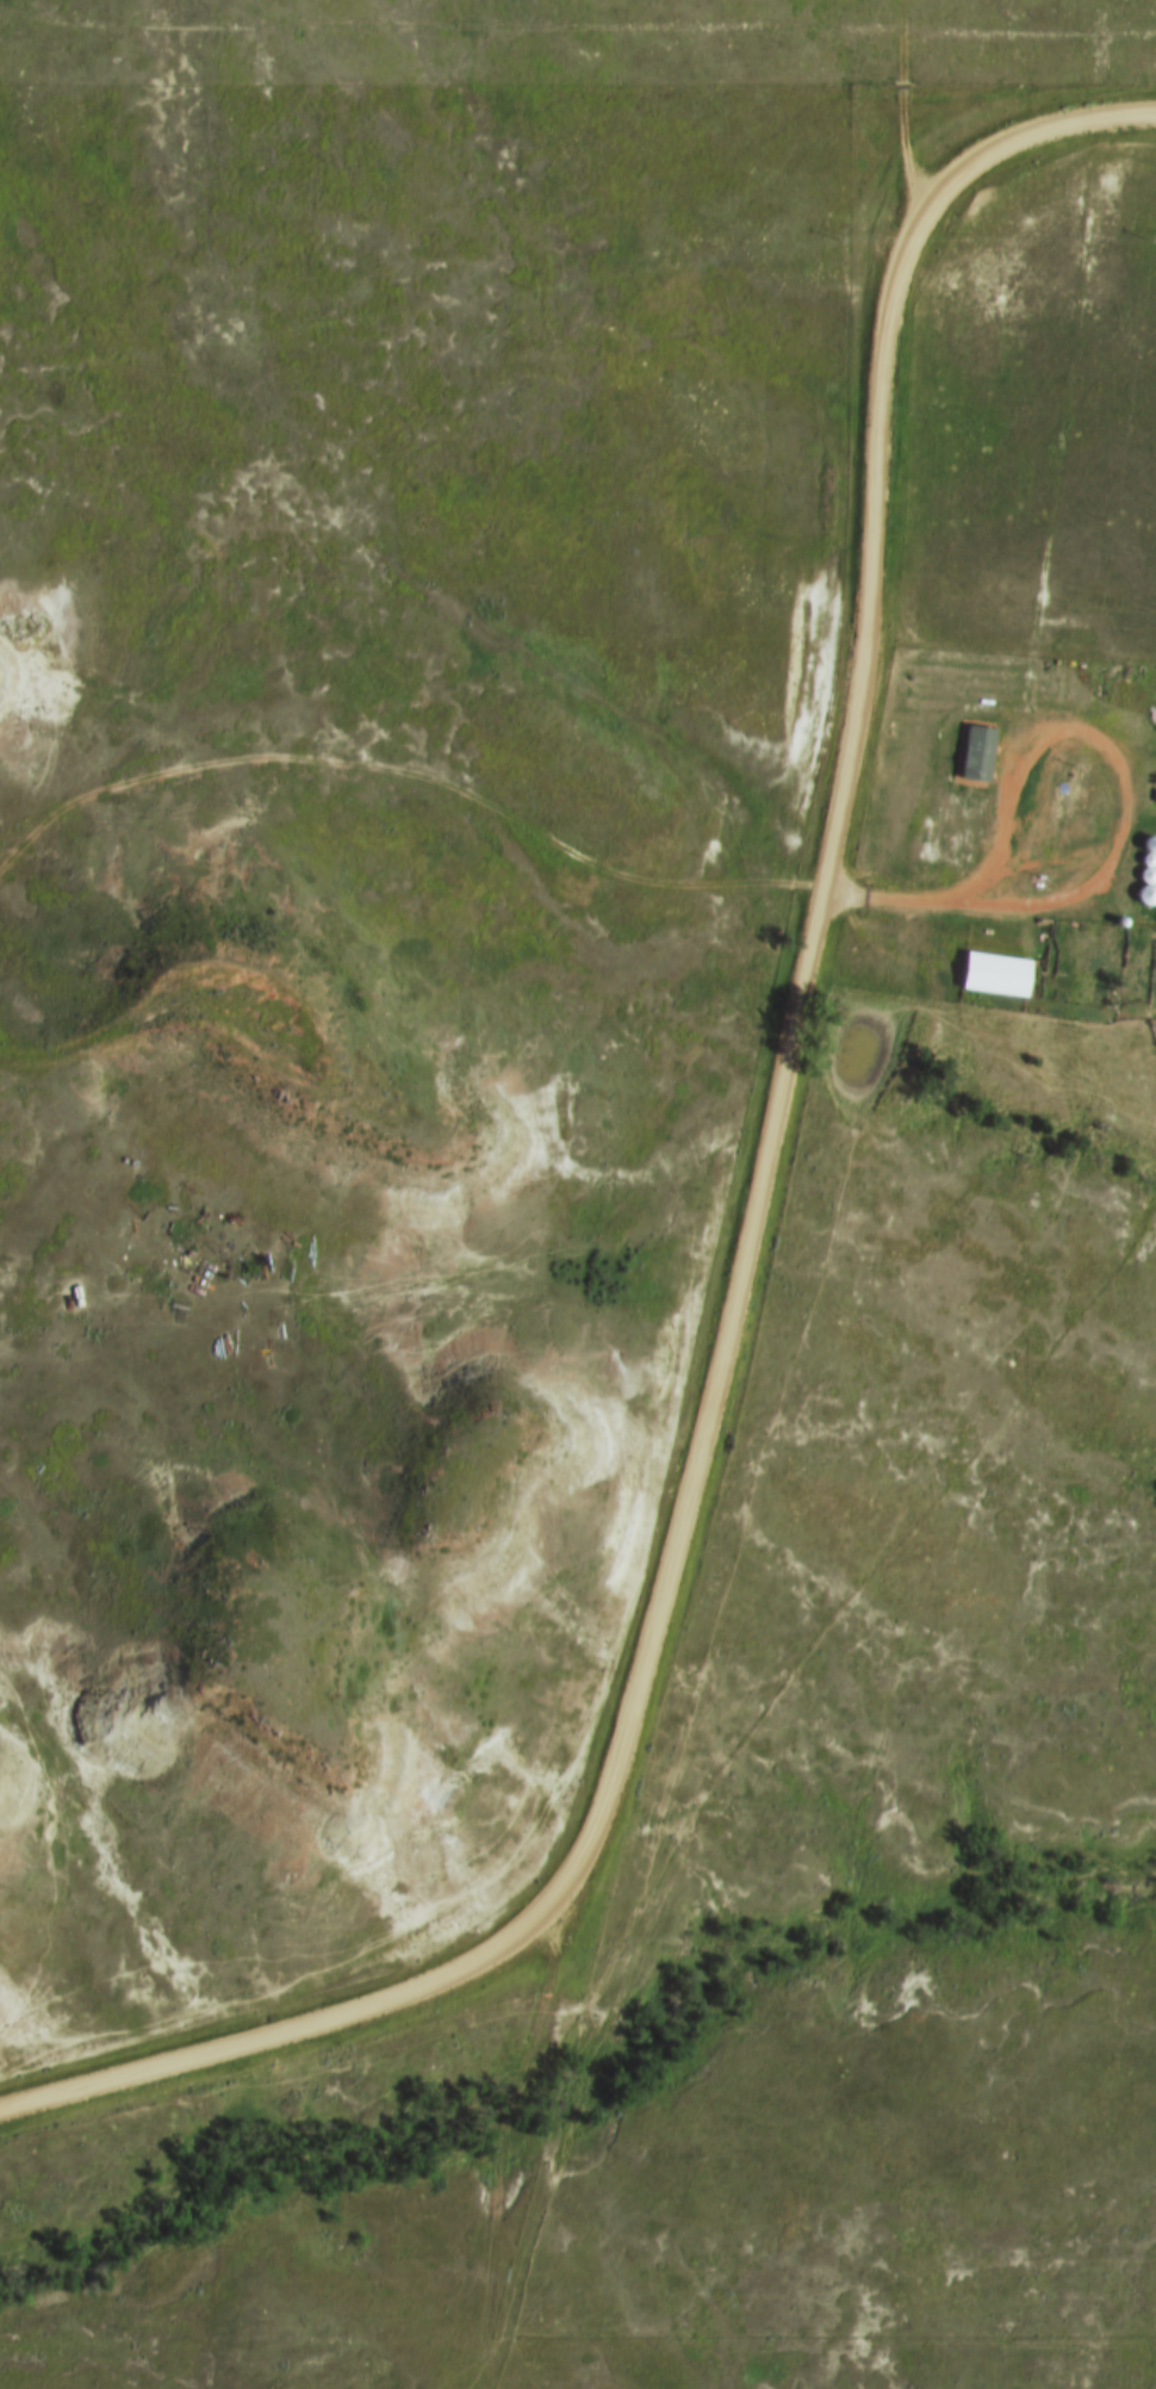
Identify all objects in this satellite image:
road: (900, 116)
road: (1013, 137)
building: (981, 755)
road: (404, 777)
road: (1001, 904)
building: (1001, 974)
road: (717, 1372)
road: (501, 2149)

